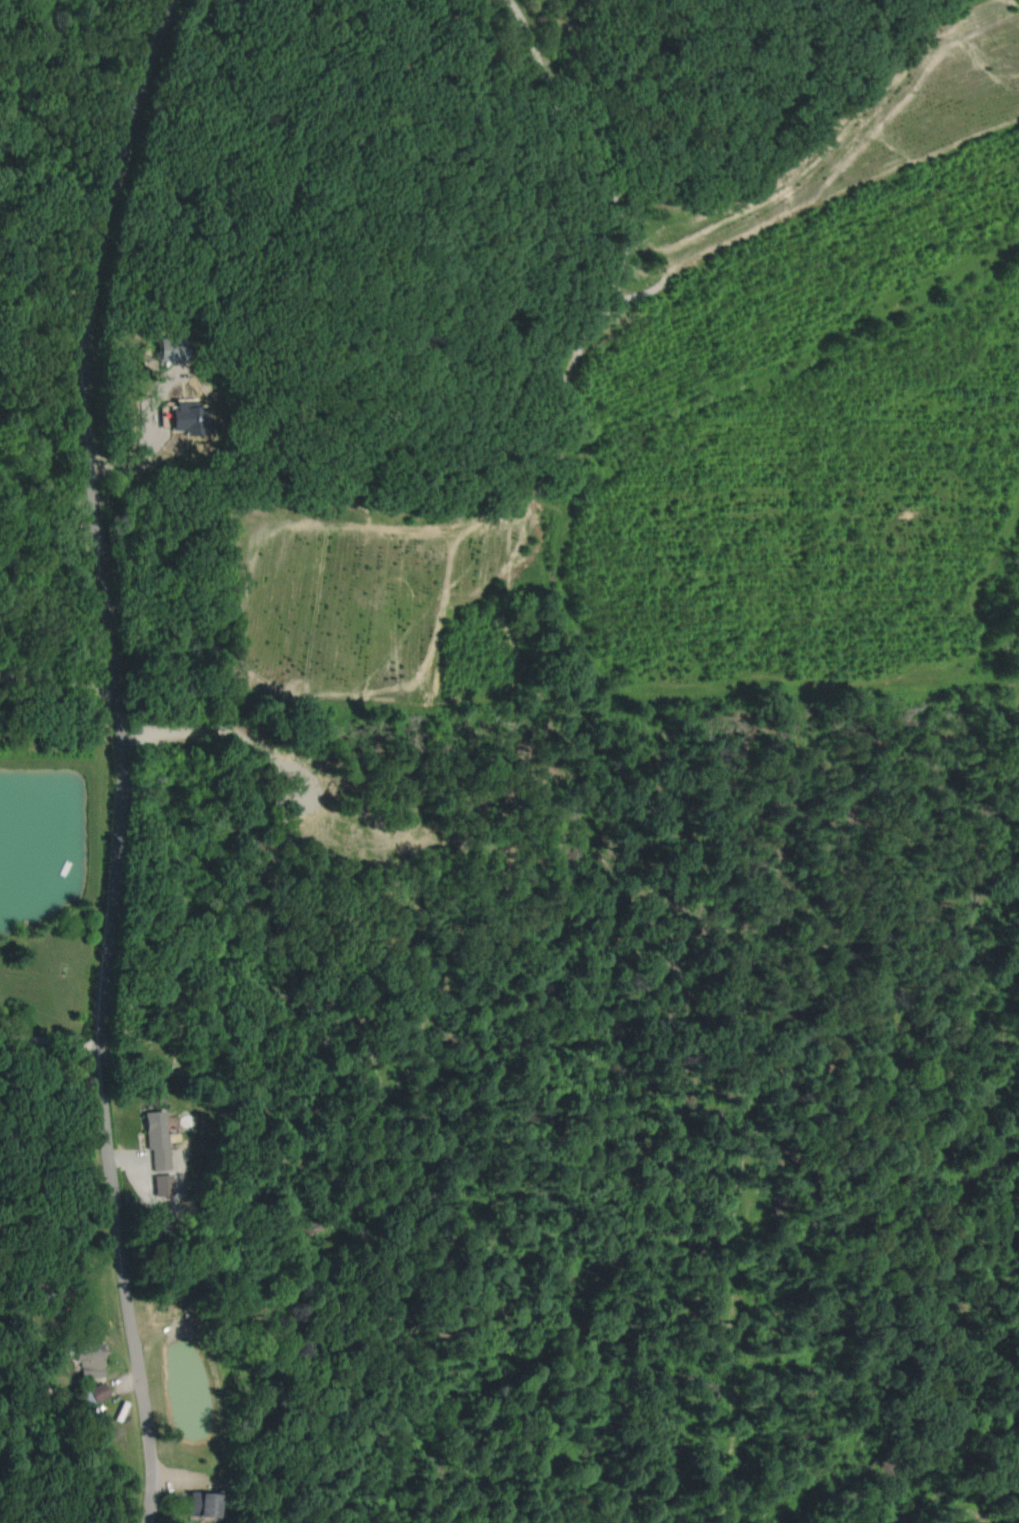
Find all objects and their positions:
building: (168, 348)
building: (186, 416)
road: (97, 756)
road: (41, 1052)
building: (154, 1138)
building: (88, 1358)
building: (97, 1391)
building: (85, 1398)
building: (198, 1503)

